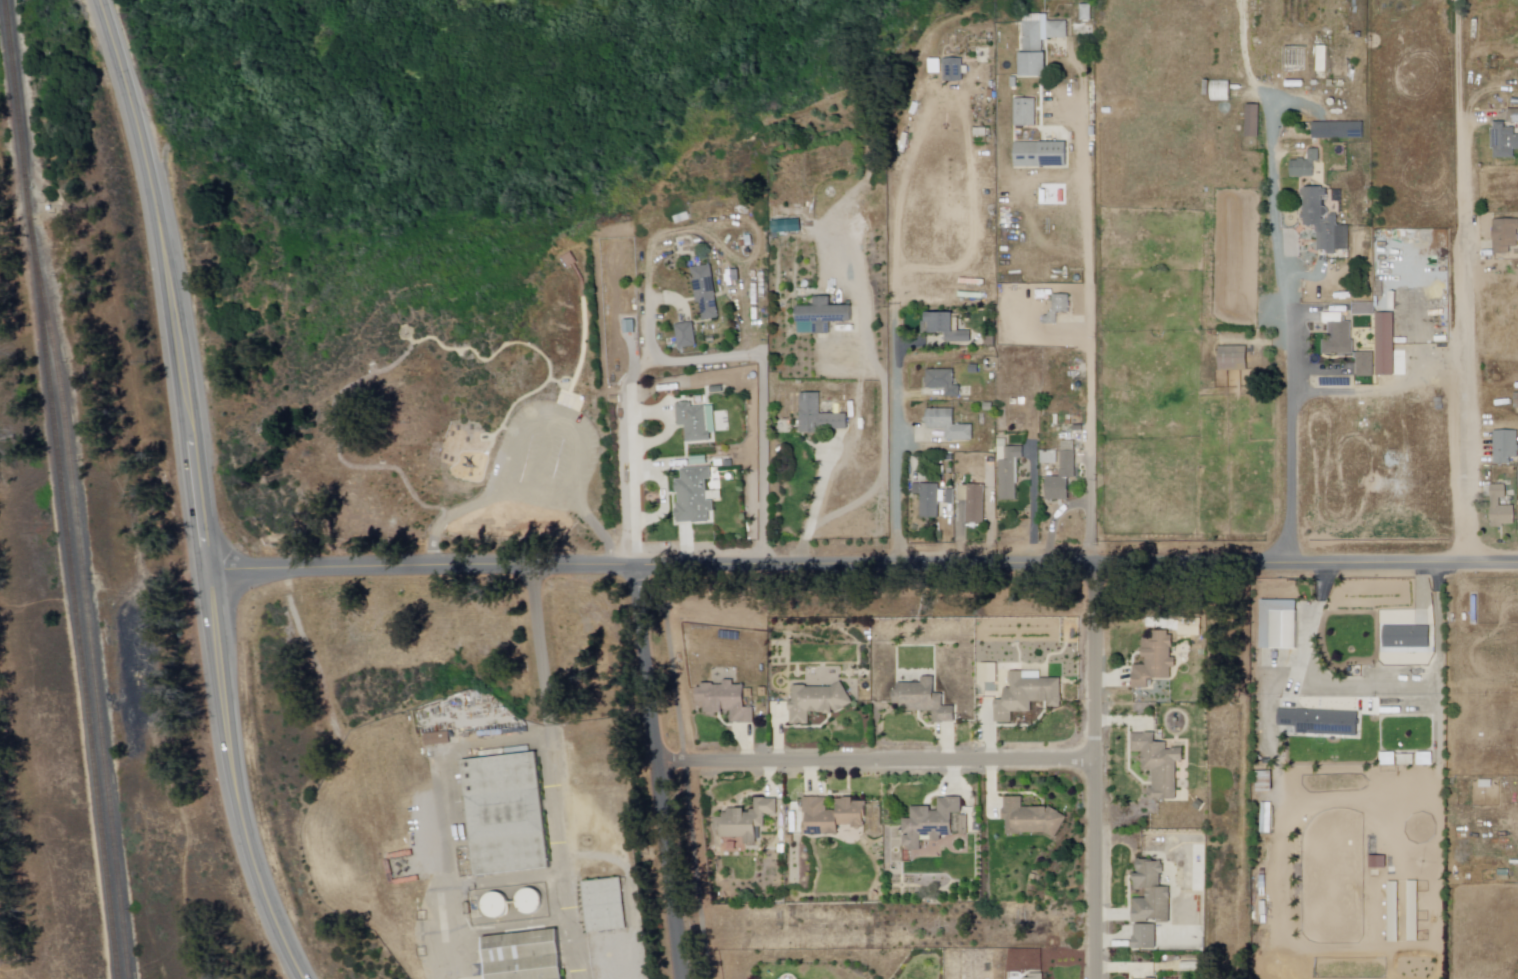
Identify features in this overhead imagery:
building: (1084, 13)
building: (1036, 42)
building: (1321, 59)
building: (941, 66)
building: (1338, 69)
building: (958, 70)
building: (1219, 91)
road: (1270, 97)
road: (1300, 104)
building: (1024, 113)
building: (1513, 116)
building: (1252, 122)
building: (1338, 130)
railway: (19, 141)
building: (1503, 141)
building: (1249, 145)
building: (1039, 155)
building: (1304, 166)
road: (1491, 168)
road: (154, 207)
building: (1323, 223)
building: (787, 225)
building: (1505, 236)
building: (707, 292)
road: (1466, 294)
building: (1056, 309)
building: (1363, 310)
building: (829, 315)
building: (943, 328)
building: (687, 335)
road: (1286, 335)
road: (1087, 336)
building: (1337, 336)
building: (1384, 345)
building: (1232, 358)
building: (1364, 364)
building: (942, 383)
road: (896, 397)
building: (1516, 401)
building: (822, 417)
building: (699, 422)
building: (947, 426)
building: (1505, 447)
building: (1048, 458)
building: (721, 464)
building: (1008, 470)
building: (1062, 475)
road: (629, 481)
building: (698, 496)
building: (949, 497)
building: (928, 501)
building: (973, 503)
building: (1500, 509)
road: (862, 568)
building: (1279, 625)
railway: (87, 630)
railway: (76, 631)
building: (1406, 638)
road: (1439, 658)
building: (1153, 661)
road: (544, 663)
building: (989, 672)
building: (763, 691)
building: (1025, 697)
building: (922, 701)
building: (730, 703)
building: (820, 703)
road: (224, 706)
building: (1288, 719)
building: (1331, 724)
building: (440, 737)
road: (874, 761)
building: (1404, 761)
building: (1157, 766)
road: (1093, 772)
road: (657, 773)
building: (1263, 784)
building: (1485, 785)
building: (506, 814)
building: (835, 815)
building: (1034, 818)
building: (1265, 818)
building: (750, 820)
building: (934, 822)
building: (731, 844)
building: (1377, 861)
building: (1150, 892)
storage tank: (534, 900)
building: (522, 902)
storage tank: (499, 904)
building: (603, 904)
building: (488, 906)
building: (1412, 911)
building: (1393, 912)
park: (24, 935)
building: (1146, 937)
building: (523, 956)
building: (1029, 976)
building: (1040, 976)
building: (1150, 978)

